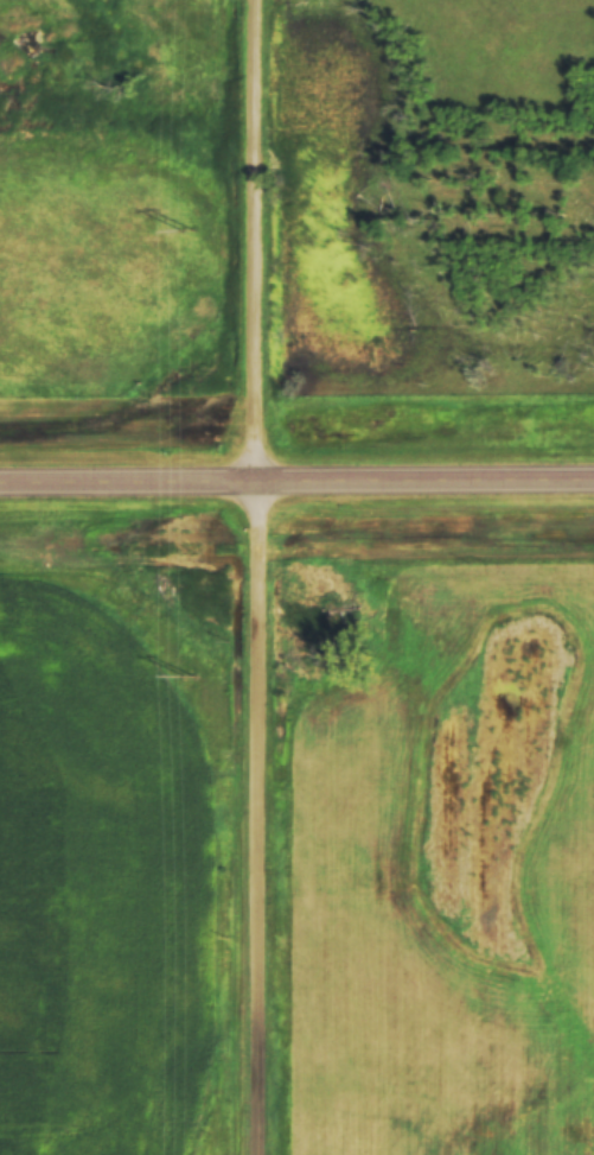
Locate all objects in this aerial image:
power tower: (189, 109)
road: (296, 458)
road: (230, 577)
power tower: (190, 686)

